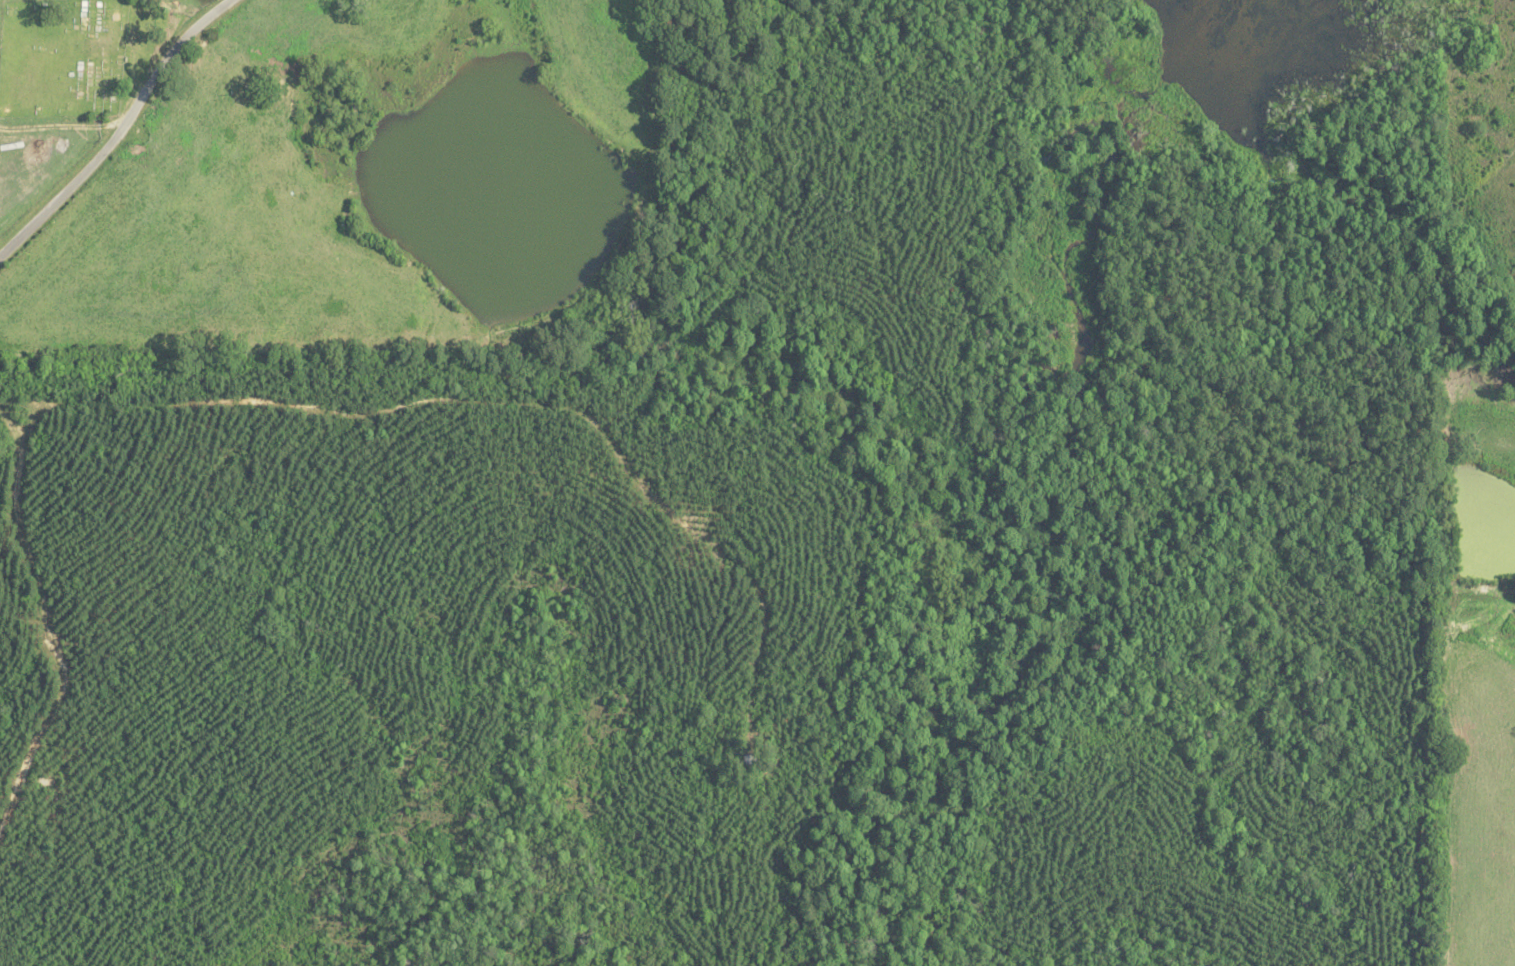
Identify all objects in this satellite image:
road: (115, 126)

